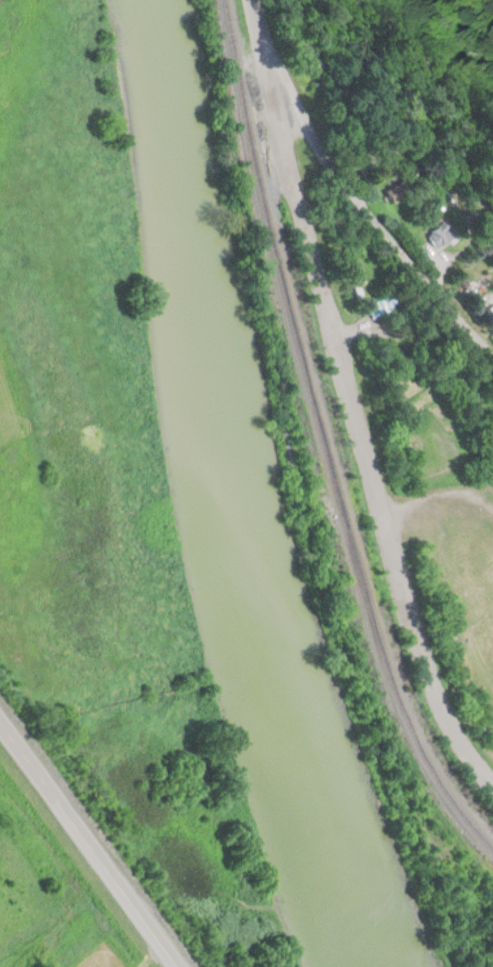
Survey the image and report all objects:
road: (256, 34)
building: (397, 193)
road: (370, 220)
building: (440, 238)
road: (357, 332)
road: (426, 353)
building: (492, 430)
railway: (325, 439)
road: (357, 439)
river: (241, 487)
road: (436, 490)
road: (85, 849)

